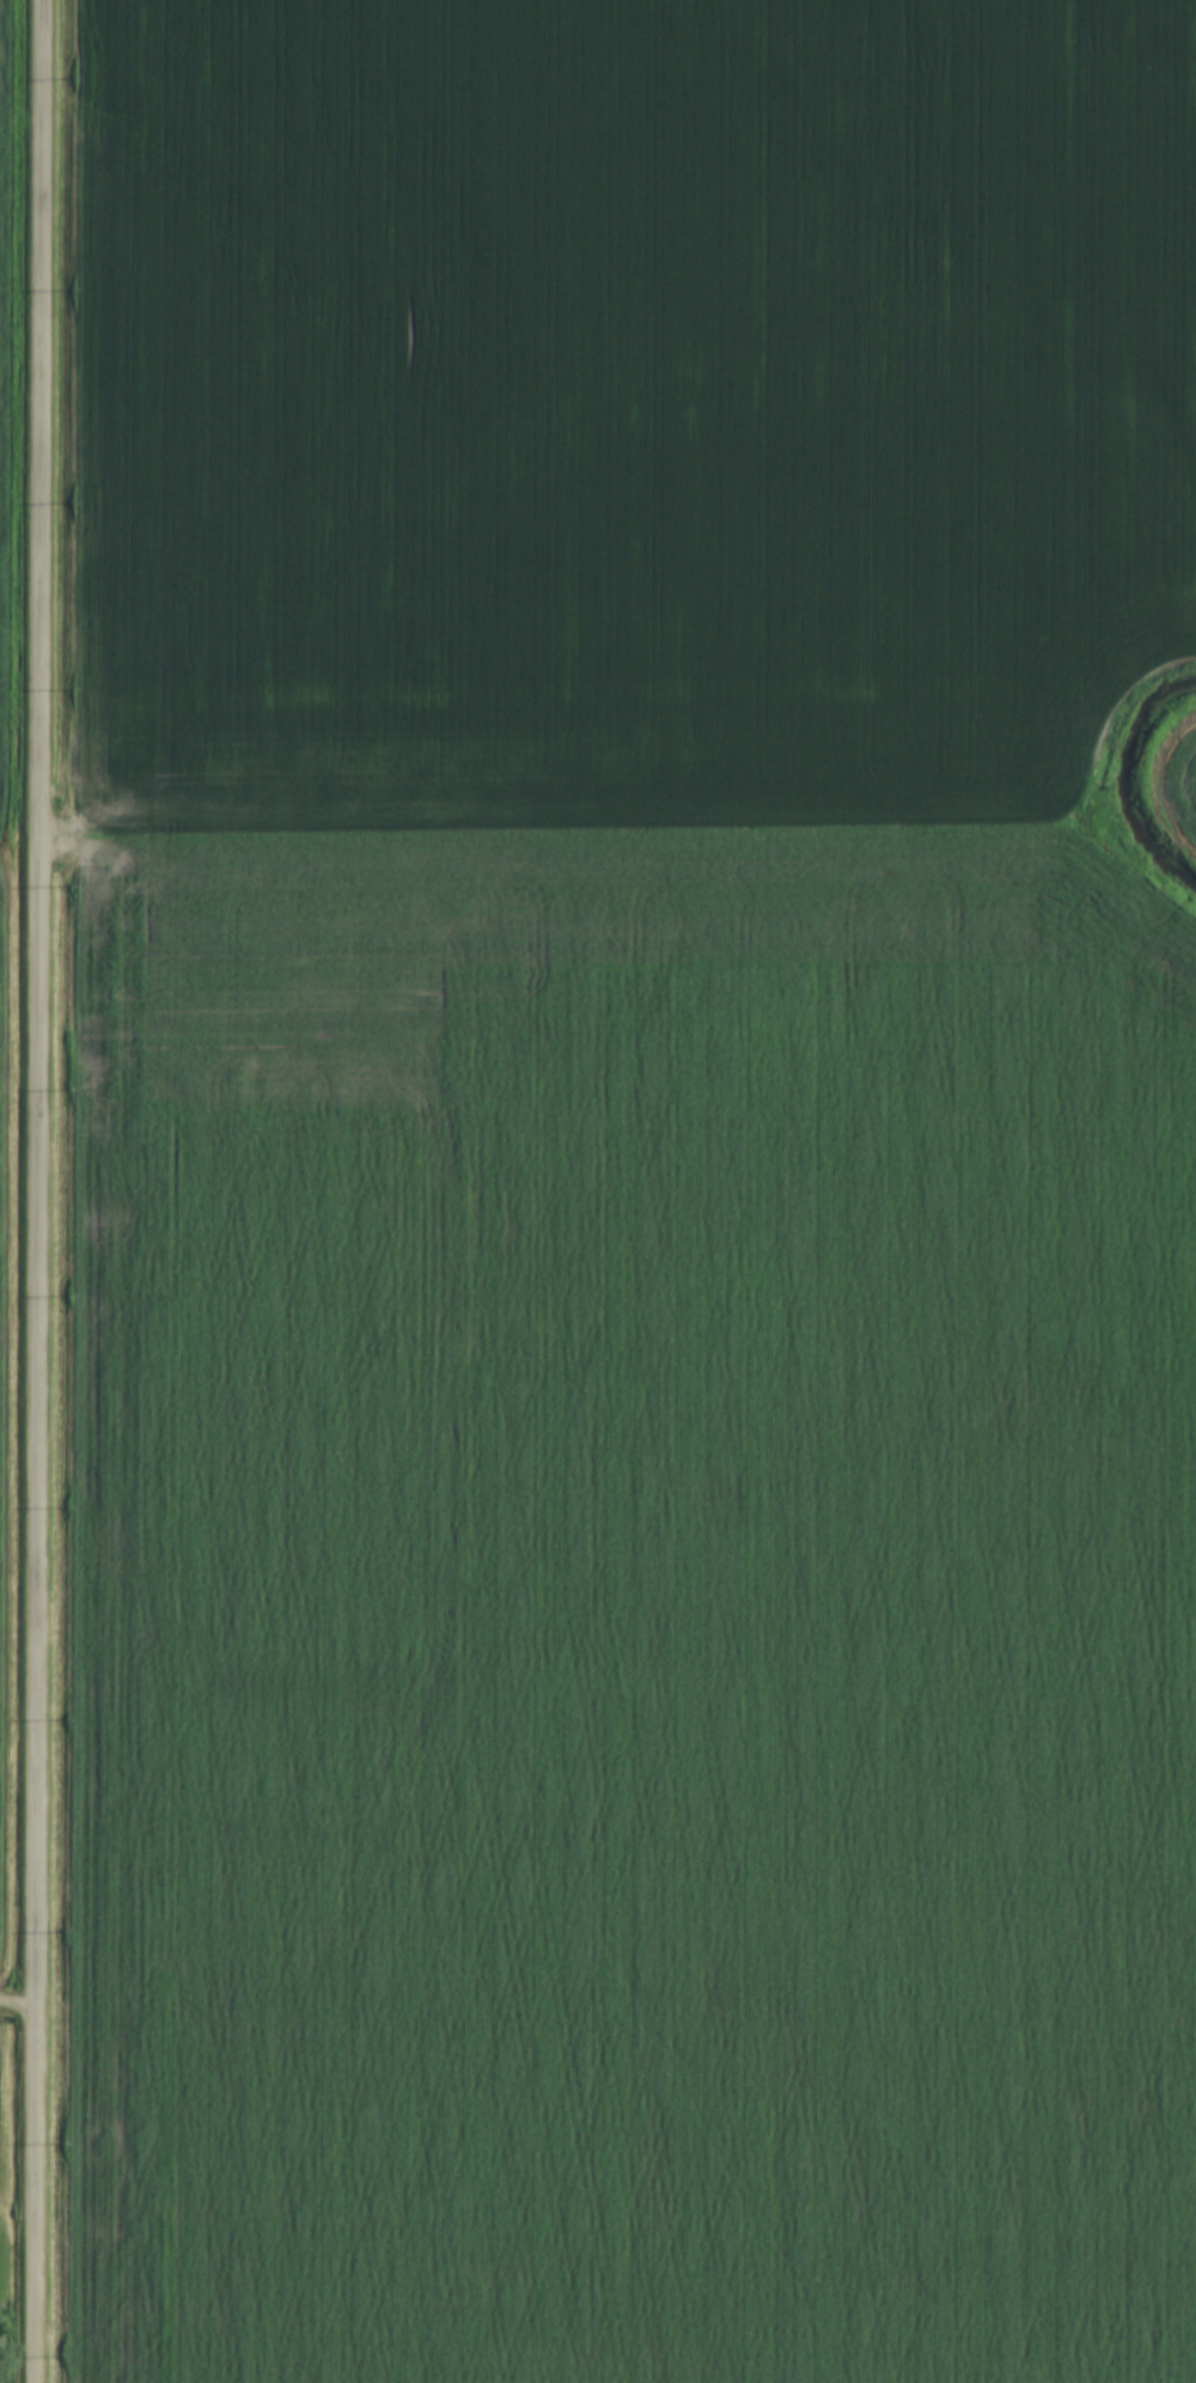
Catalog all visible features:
road: (44, 1190)

